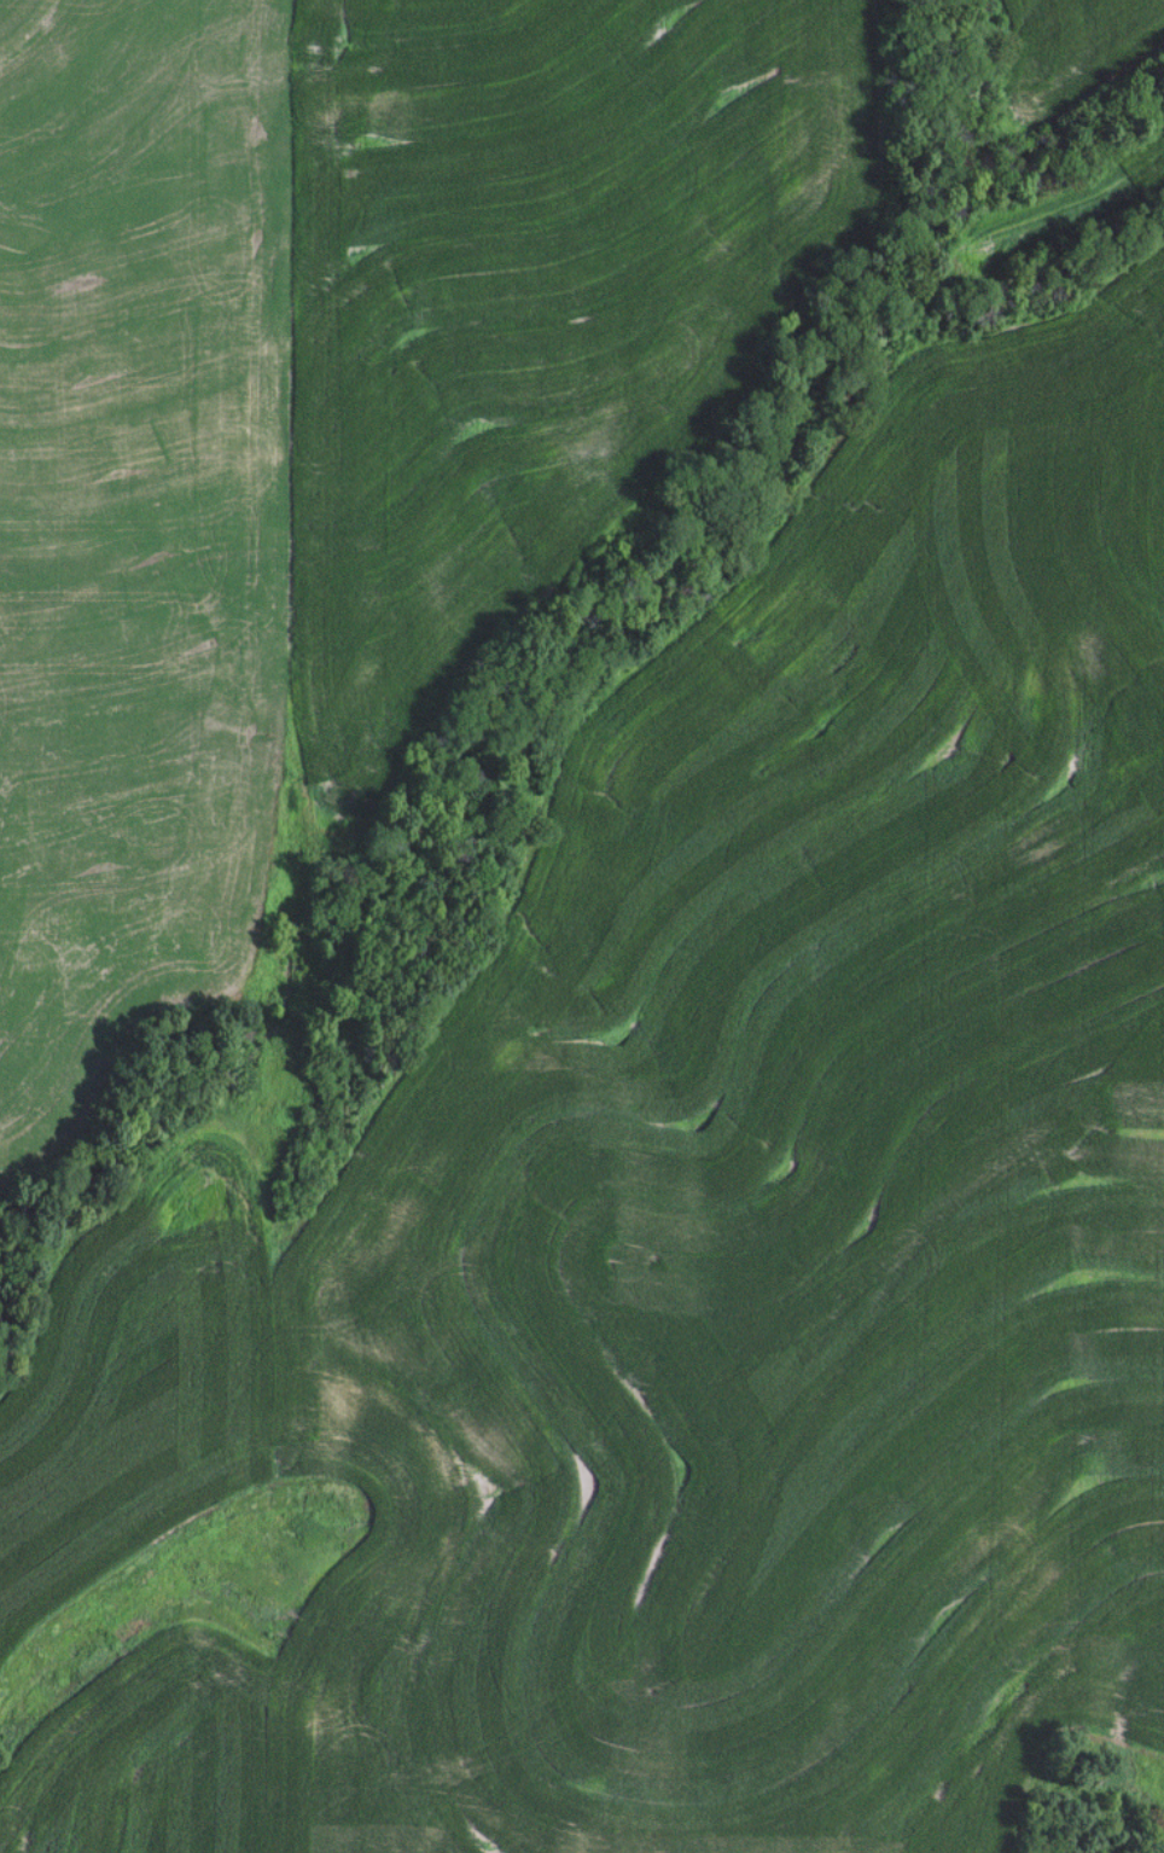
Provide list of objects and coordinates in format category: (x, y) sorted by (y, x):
road: (286, 390)

